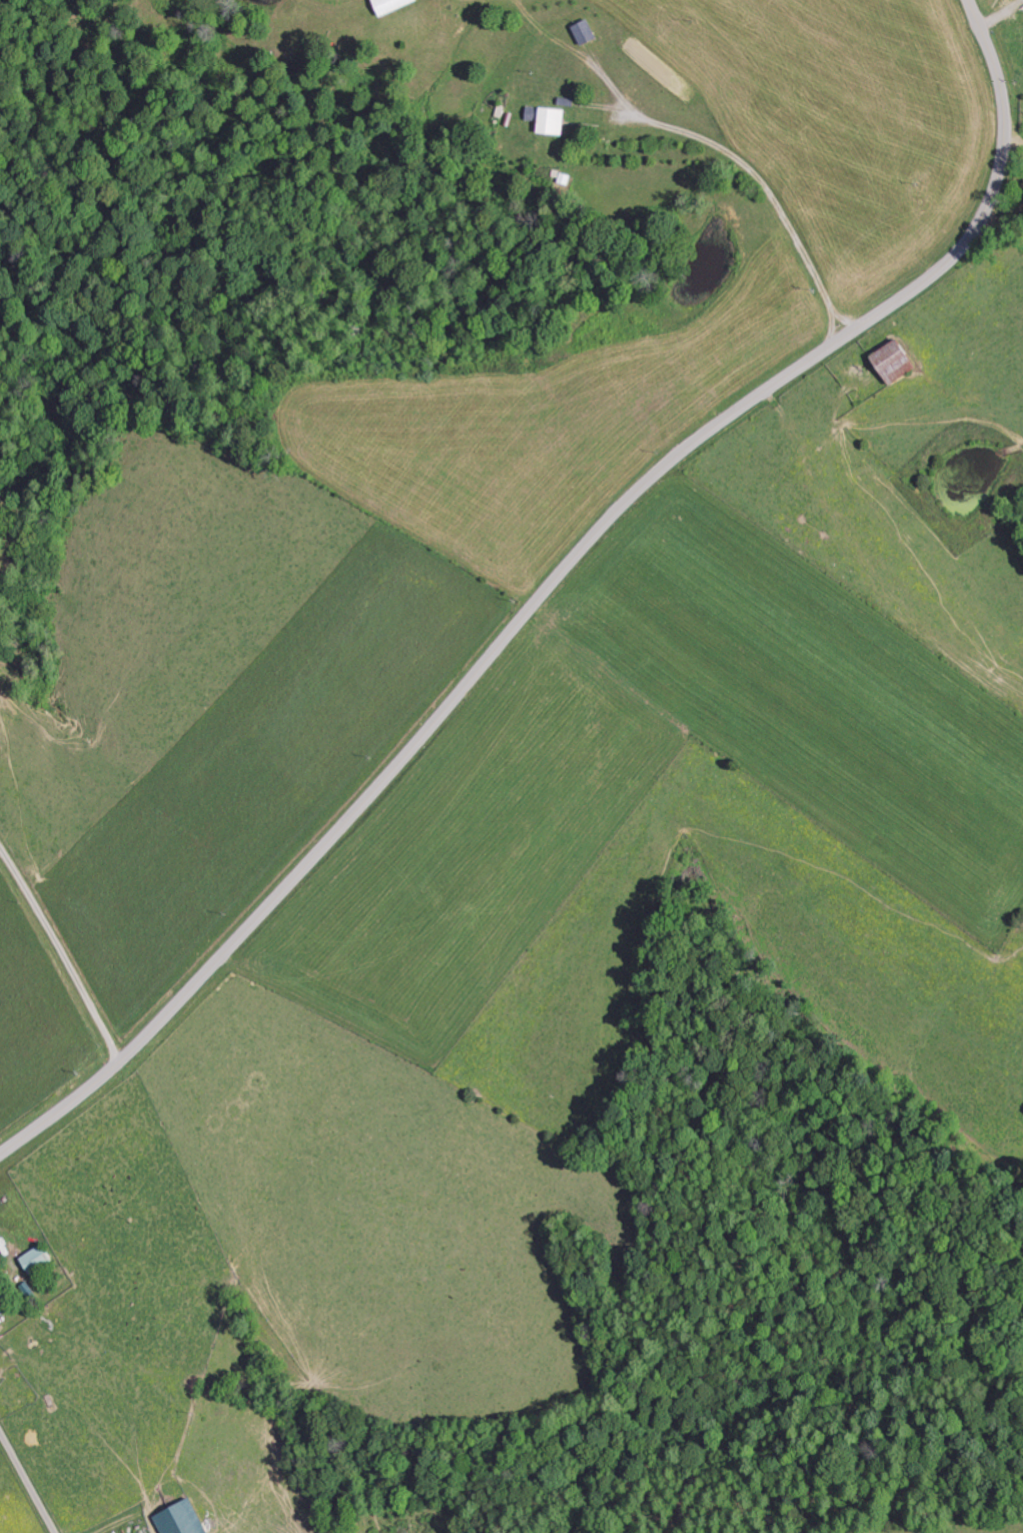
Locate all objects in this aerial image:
building: (385, 5)
building: (581, 30)
building: (545, 119)
road: (1006, 183)
building: (889, 361)
road: (551, 583)
road: (63, 960)
building: (33, 1259)
road: (27, 1483)
building: (178, 1518)

